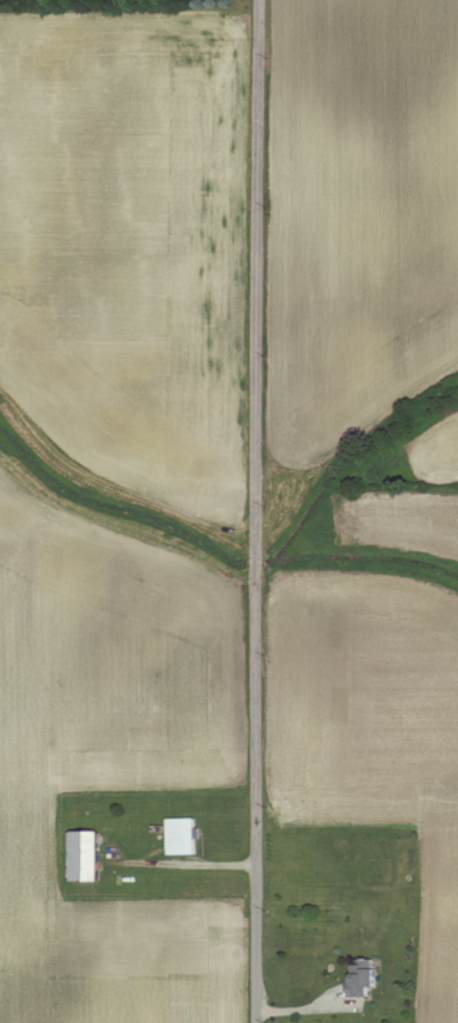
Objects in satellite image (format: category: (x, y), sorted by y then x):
road: (254, 511)
building: (184, 837)
building: (87, 857)

